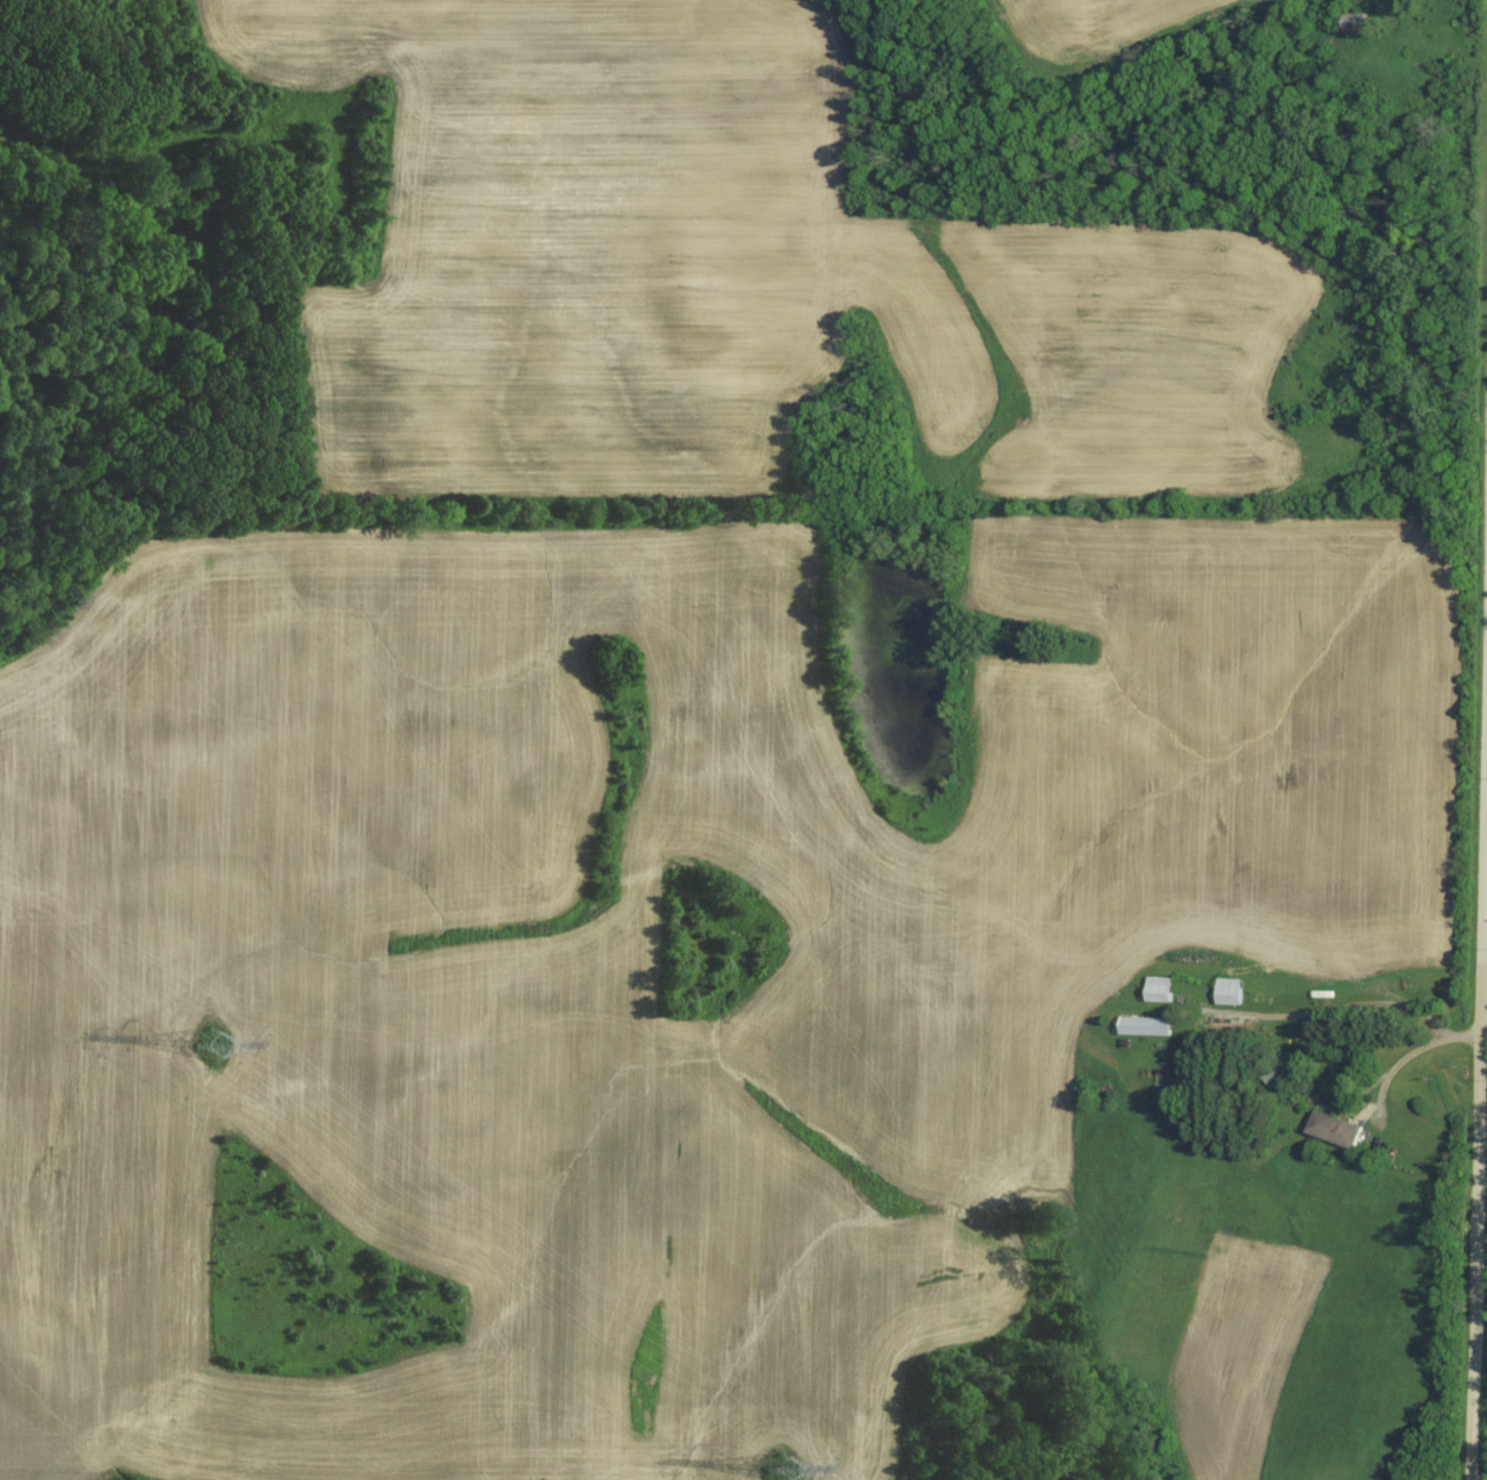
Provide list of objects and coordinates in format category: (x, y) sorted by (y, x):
building: (1359, 23)
building: (1161, 990)
building: (1230, 992)
road: (1351, 1005)
building: (1147, 1026)
road: (1416, 1040)
power tower: (215, 1045)
building: (1278, 1076)
building: (1338, 1130)
road: (1481, 1135)
power tower: (784, 1471)

